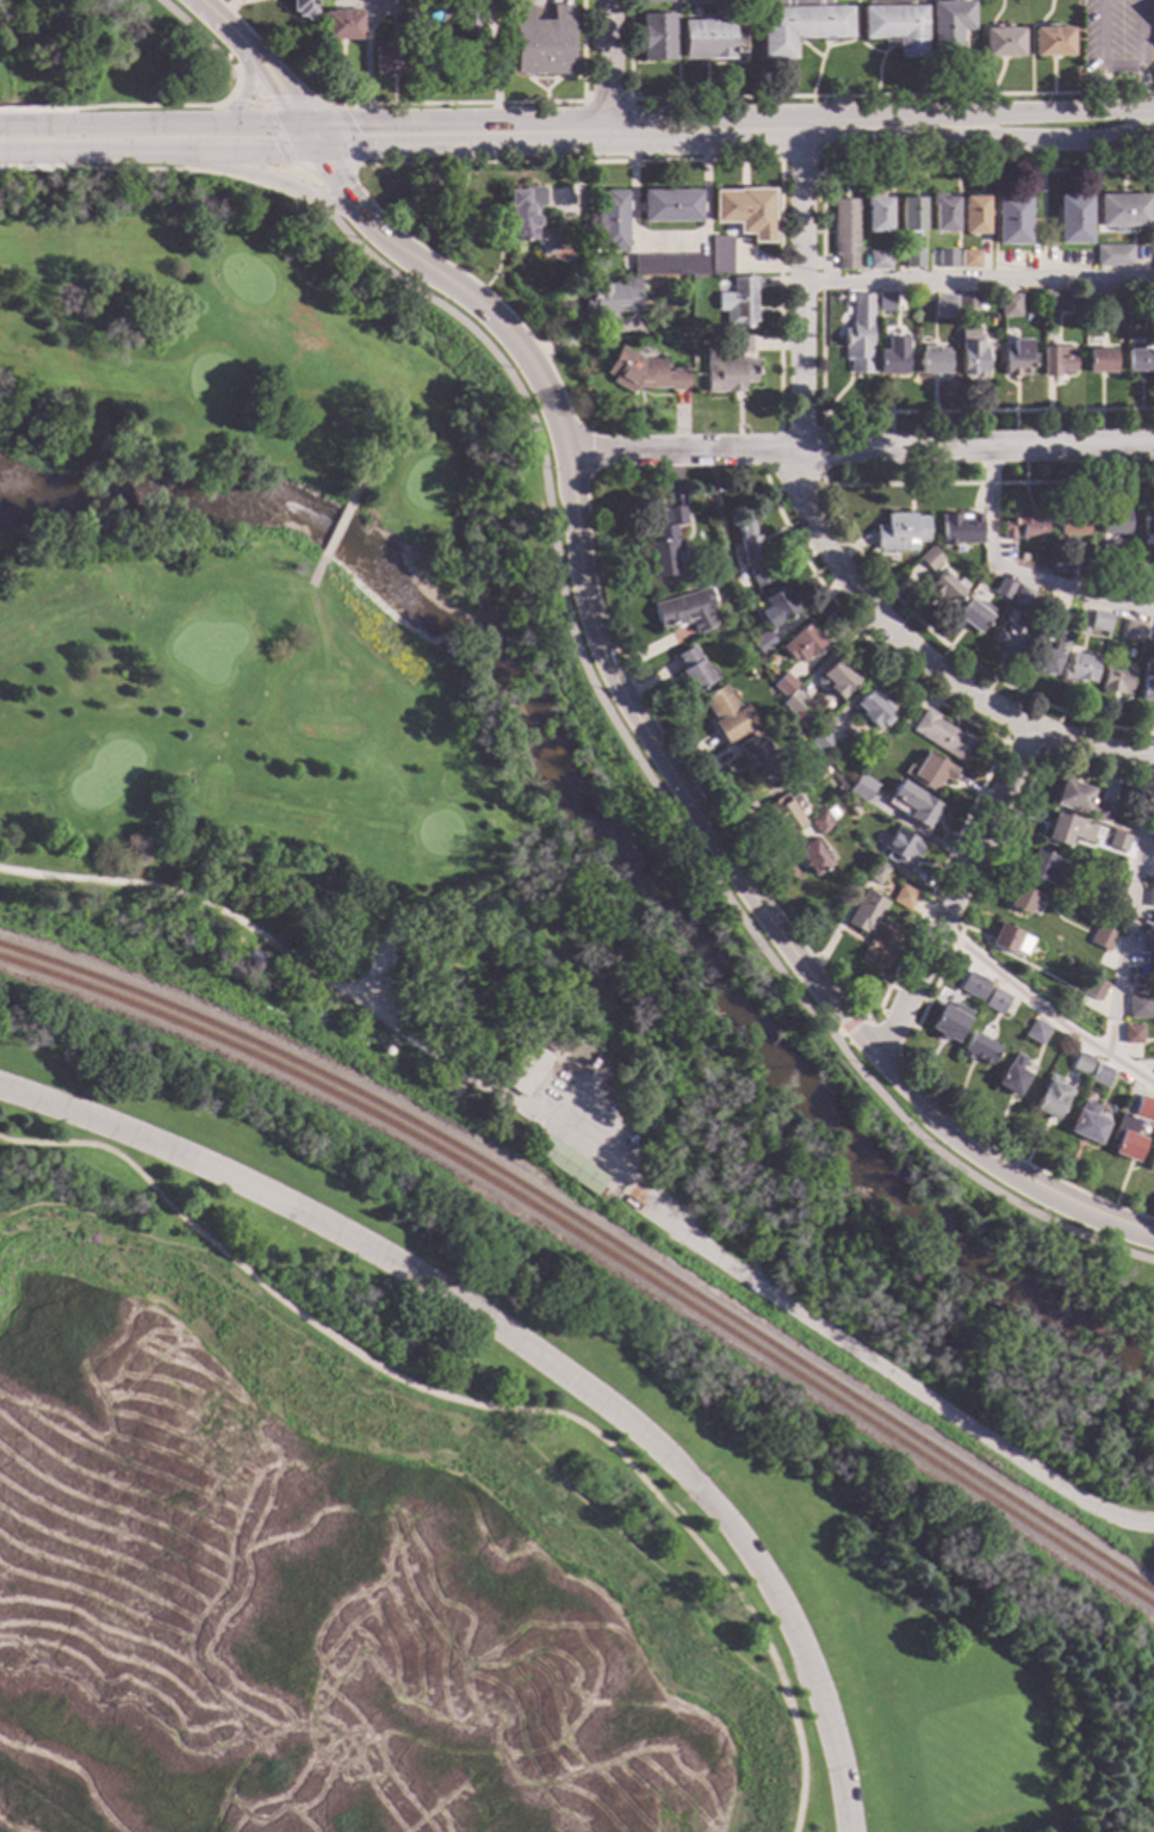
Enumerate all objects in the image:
building: (894, 1)
building: (653, 2)
building: (697, 2)
parking lot: (187, 7)
building: (302, 11)
road: (215, 17)
building: (469, 17)
building: (799, 26)
building: (340, 27)
building: (945, 29)
building: (894, 30)
building: (653, 38)
building: (709, 39)
building: (539, 43)
building: (999, 44)
building: (1049, 44)
road: (212, 50)
park: (107, 56)
road: (1140, 56)
road: (1102, 57)
building: (391, 61)
road: (606, 67)
road: (248, 81)
road: (278, 89)
road: (6, 91)
traffic signals: (283, 95)
road: (888, 97)
road: (604, 101)
road: (821, 101)
road: (242, 104)
road: (457, 104)
road: (111, 106)
road: (1040, 114)
road: (173, 124)
road: (821, 130)
road: (342, 134)
road: (279, 135)
road: (637, 135)
traffic signals: (359, 137)
road: (1040, 141)
road: (330, 143)
traffic signals: (317, 149)
road: (303, 150)
road: (110, 153)
road: (254, 153)
traffic signals: (277, 153)
road: (569, 162)
road: (823, 165)
road: (780, 166)
road: (157, 171)
road: (984, 171)
road: (783, 173)
road: (801, 173)
traffic signals: (331, 175)
road: (300, 177)
road: (339, 187)
road: (291, 188)
road: (308, 196)
building: (670, 205)
building: (1124, 210)
building: (525, 211)
building: (747, 211)
building: (945, 212)
building: (879, 215)
building: (912, 215)
building: (976, 215)
building: (1012, 219)
building: (1074, 219)
building: (610, 221)
building: (584, 229)
building: (846, 233)
building: (722, 255)
building: (1115, 255)
building: (914, 258)
building: (970, 258)
building: (948, 259)
building: (881, 260)
building: (670, 264)
road: (978, 280)
road: (801, 291)
building: (614, 297)
building: (1116, 299)
building: (969, 301)
building: (1057, 301)
building: (1152, 301)
building: (887, 302)
building: (740, 303)
building: (1011, 304)
building: (947, 307)
building: (860, 335)
building: (681, 336)
building: (974, 358)
building: (1018, 358)
building: (1141, 359)
building: (1057, 360)
building: (1102, 360)
building: (892, 361)
building: (935, 361)
building: (731, 367)
building: (645, 372)
road: (863, 451)
road: (356, 487)
building: (1113, 521)
building: (1072, 522)
building: (1025, 526)
building: (1146, 527)
road: (337, 528)
building: (962, 528)
building: (902, 532)
building: (666, 544)
building: (752, 553)
building: (931, 558)
building: (1082, 568)
road: (316, 572)
road: (1016, 574)
building: (1123, 578)
building: (1152, 582)
building: (1006, 588)
building: (948, 589)
building: (1024, 596)
building: (777, 607)
building: (1051, 607)
building: (684, 608)
building: (974, 615)
building: (1100, 620)
building: (1133, 631)
building: (1011, 636)
building: (763, 642)
building: (801, 643)
road: (925, 660)
building: (1047, 661)
building: (694, 669)
building: (1081, 669)
building: (1116, 677)
building: (839, 679)
building: (783, 683)
building: (1148, 683)
building: (794, 701)
road: (571, 707)
building: (873, 708)
building: (727, 713)
building: (943, 735)
building: (821, 741)
building: (756, 757)
park: (590, 768)
building: (815, 772)
building: (932, 772)
road: (678, 784)
building: (862, 787)
road: (652, 788)
park: (398, 794)
building: (1084, 800)
building: (917, 804)
building: (787, 811)
building: (832, 812)
building: (820, 823)
building: (1069, 829)
building: (1119, 841)
river: (613, 842)
building: (902, 849)
building: (814, 856)
building: (1046, 867)
building: (879, 872)
road: (94, 880)
building: (1112, 887)
road: (954, 891)
building: (904, 896)
building: (1150, 897)
building: (1022, 900)
building: (372, 911)
building: (867, 912)
road: (1131, 918)
building: (1011, 939)
building: (1102, 939)
building: (1146, 941)
building: (883, 942)
building: (975, 986)
building: (1096, 988)
building: (995, 998)
road: (355, 999)
building: (1140, 1007)
road: (1043, 1011)
road: (851, 1022)
building: (948, 1023)
road: (838, 1032)
building: (1037, 1032)
building: (1134, 1034)
building: (979, 1048)
building: (532, 1064)
building: (1082, 1064)
building: (1013, 1076)
building: (1102, 1076)
building: (449, 1088)
building: (1051, 1098)
building: (1144, 1107)
building: (1088, 1124)
building: (1128, 1138)
building: (1152, 1163)
building: (570, 1166)
railway: (596, 1233)
railway: (596, 1246)
road: (824, 1336)
road: (531, 1353)
road: (489, 1407)
park: (421, 1413)
park: (738, 1492)

